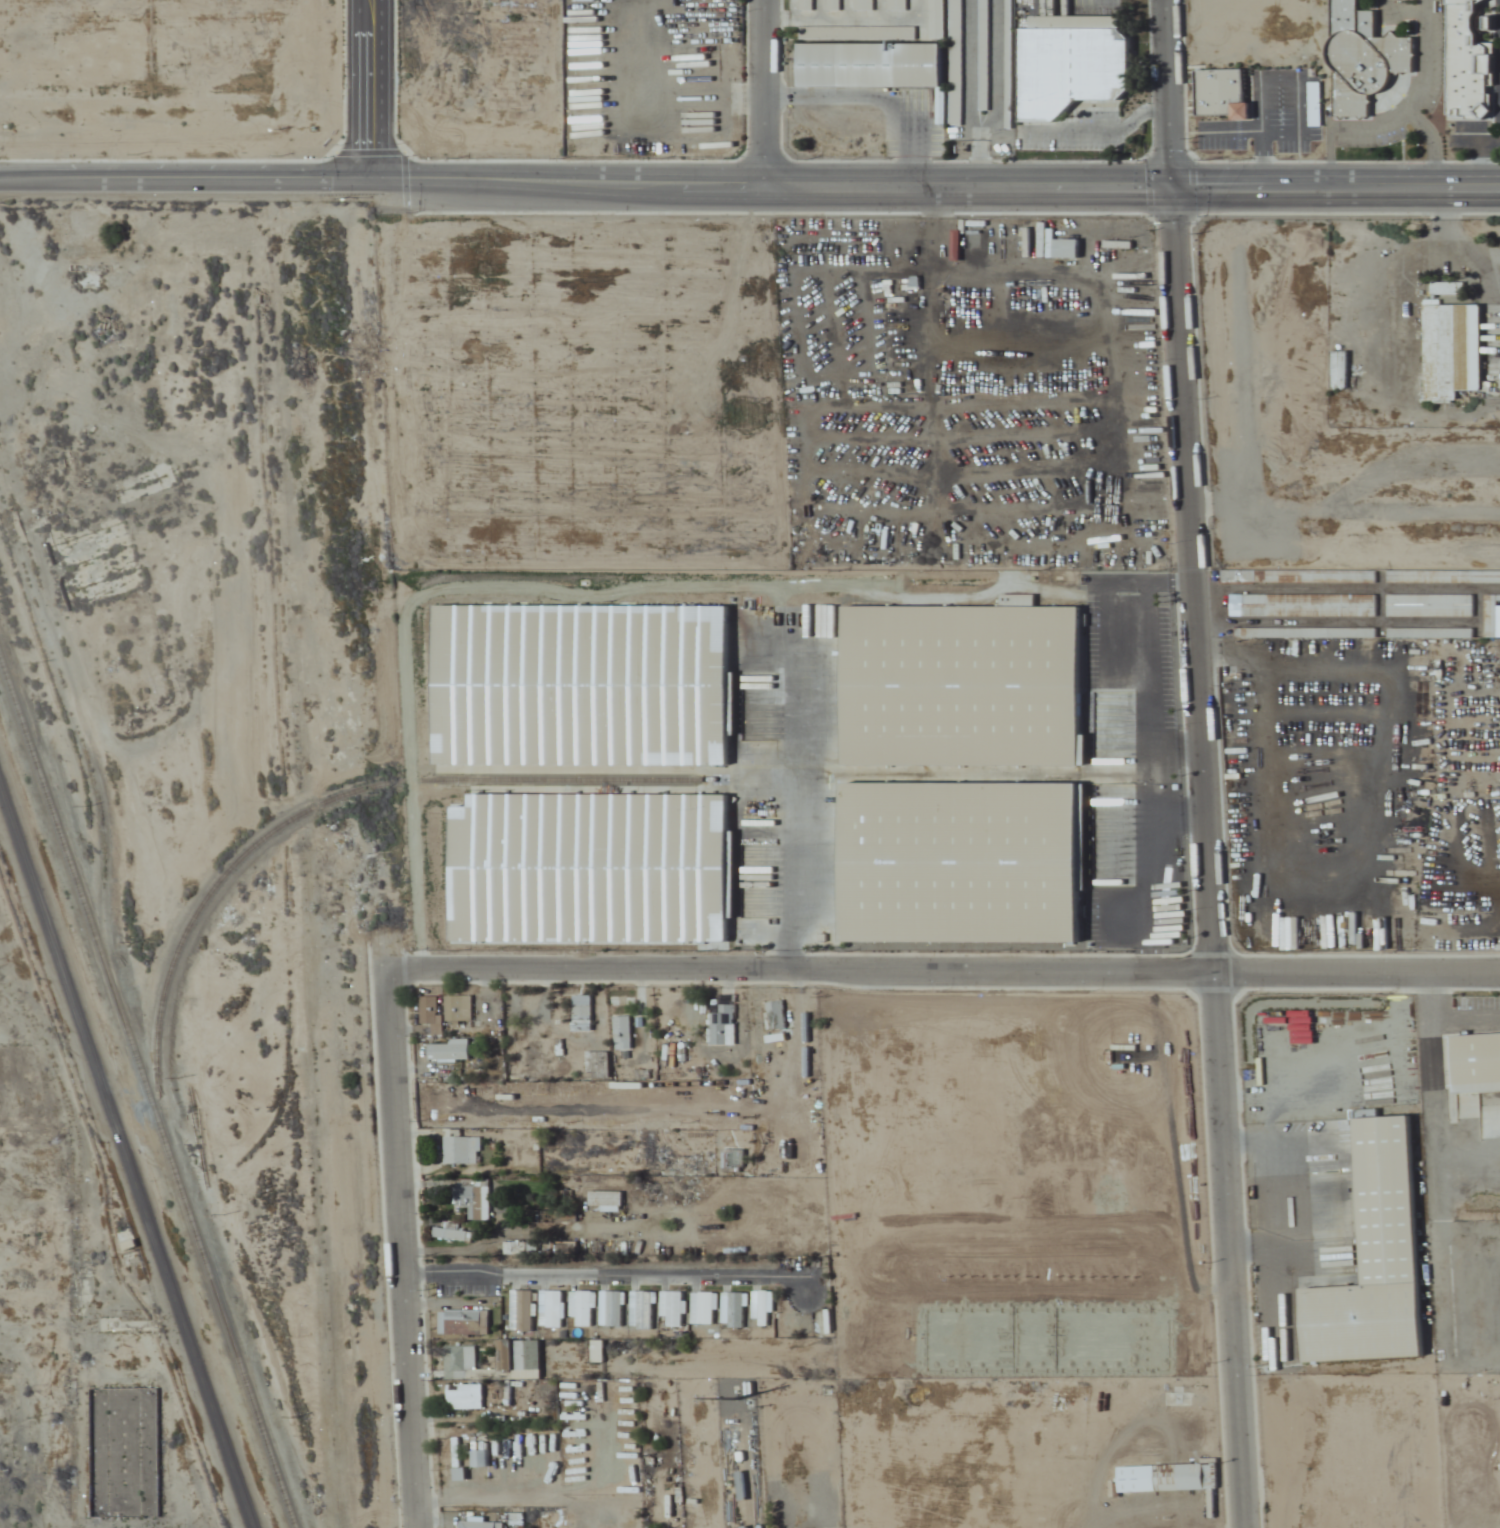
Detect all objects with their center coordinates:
building: (804, 5)
building: (832, 5)
building: (862, 5)
building: (895, 5)
building: (936, 19)
building: (1004, 20)
building: (856, 32)
building: (954, 50)
building: (982, 55)
building: (1365, 62)
building: (869, 64)
building: (1071, 64)
building: (1466, 64)
road: (372, 93)
road: (766, 93)
road: (1166, 93)
building: (1221, 93)
road: (186, 186)
road: (936, 187)
building: (1065, 248)
building: (1452, 351)
building: (1339, 371)
building: (1350, 577)
road: (1191, 580)
building: (1443, 595)
building: (579, 685)
building: (960, 686)
building: (959, 862)
building: (587, 869)
road: (942, 973)
building: (458, 1008)
building: (429, 1010)
building: (581, 1013)
railway: (110, 1014)
building: (776, 1015)
building: (722, 1023)
building: (621, 1032)
building: (447, 1049)
building: (1471, 1060)
railway: (146, 1093)
building: (459, 1148)
building: (647, 1149)
road: (126, 1157)
building: (732, 1159)
building: (685, 1163)
building: (472, 1197)
building: (605, 1200)
building: (566, 1216)
road: (400, 1232)
building: (451, 1233)
building: (519, 1247)
building: (561, 1247)
road: (1227, 1251)
building: (1372, 1259)
building: (763, 1306)
building: (671, 1307)
building: (581, 1308)
building: (611, 1308)
building: (702, 1308)
building: (550, 1309)
building: (732, 1309)
building: (521, 1310)
building: (641, 1310)
building: (465, 1321)
building: (596, 1351)
building: (518, 1357)
building: (463, 1397)
building: (115, 1454)
building: (1166, 1478)
building: (463, 1524)

